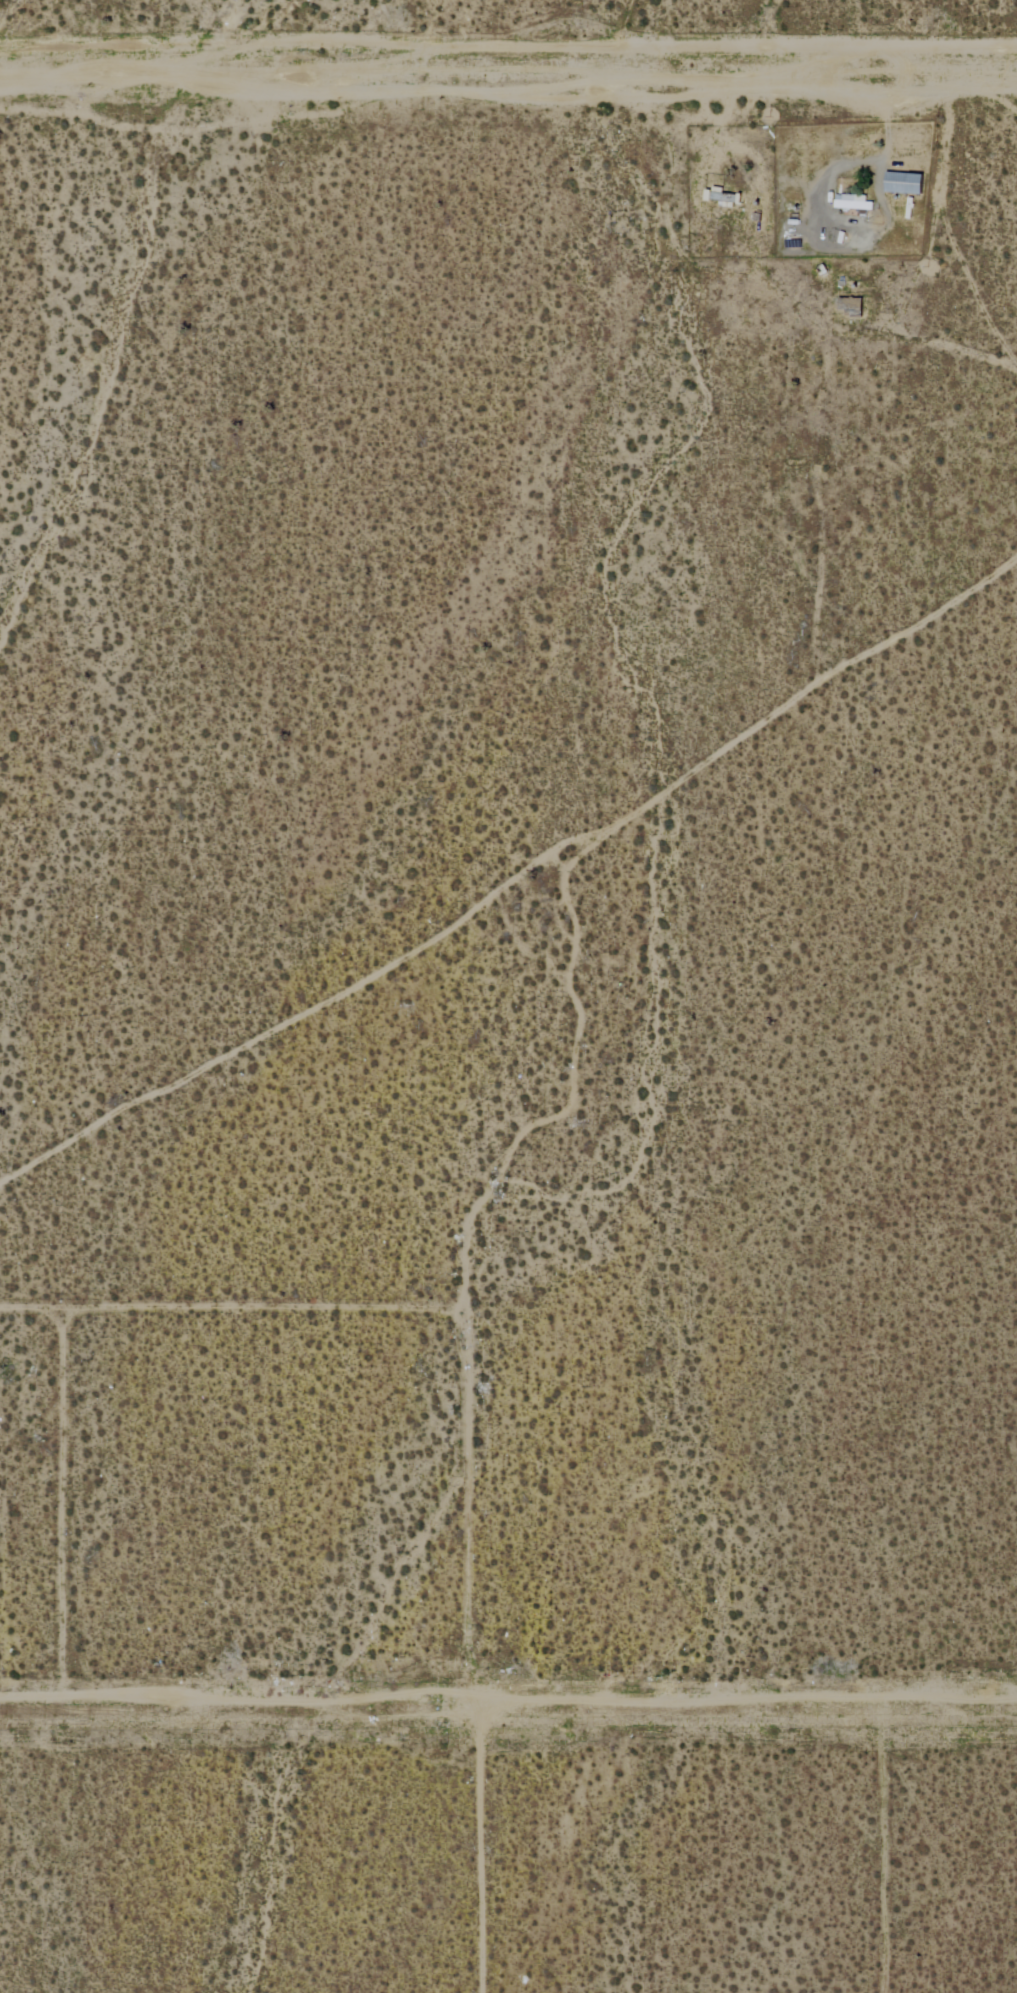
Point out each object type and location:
road: (508, 69)
building: (852, 202)
road: (508, 1701)
road: (472, 1847)

